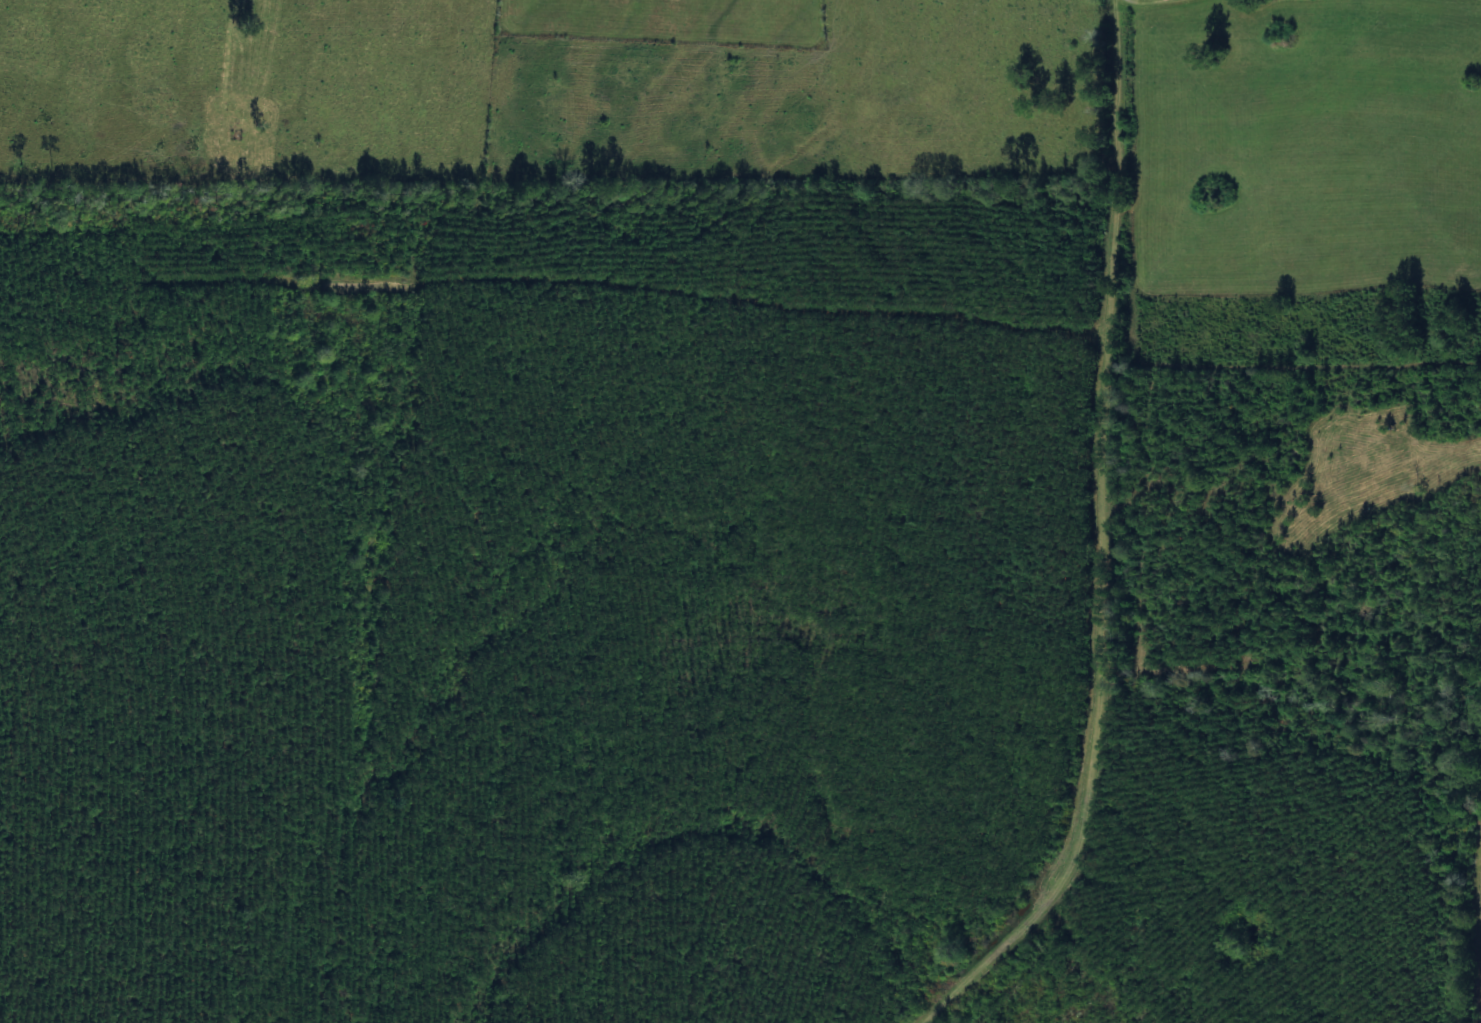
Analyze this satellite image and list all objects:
road: (1473, 1)
road: (1166, 28)
road: (1097, 558)

